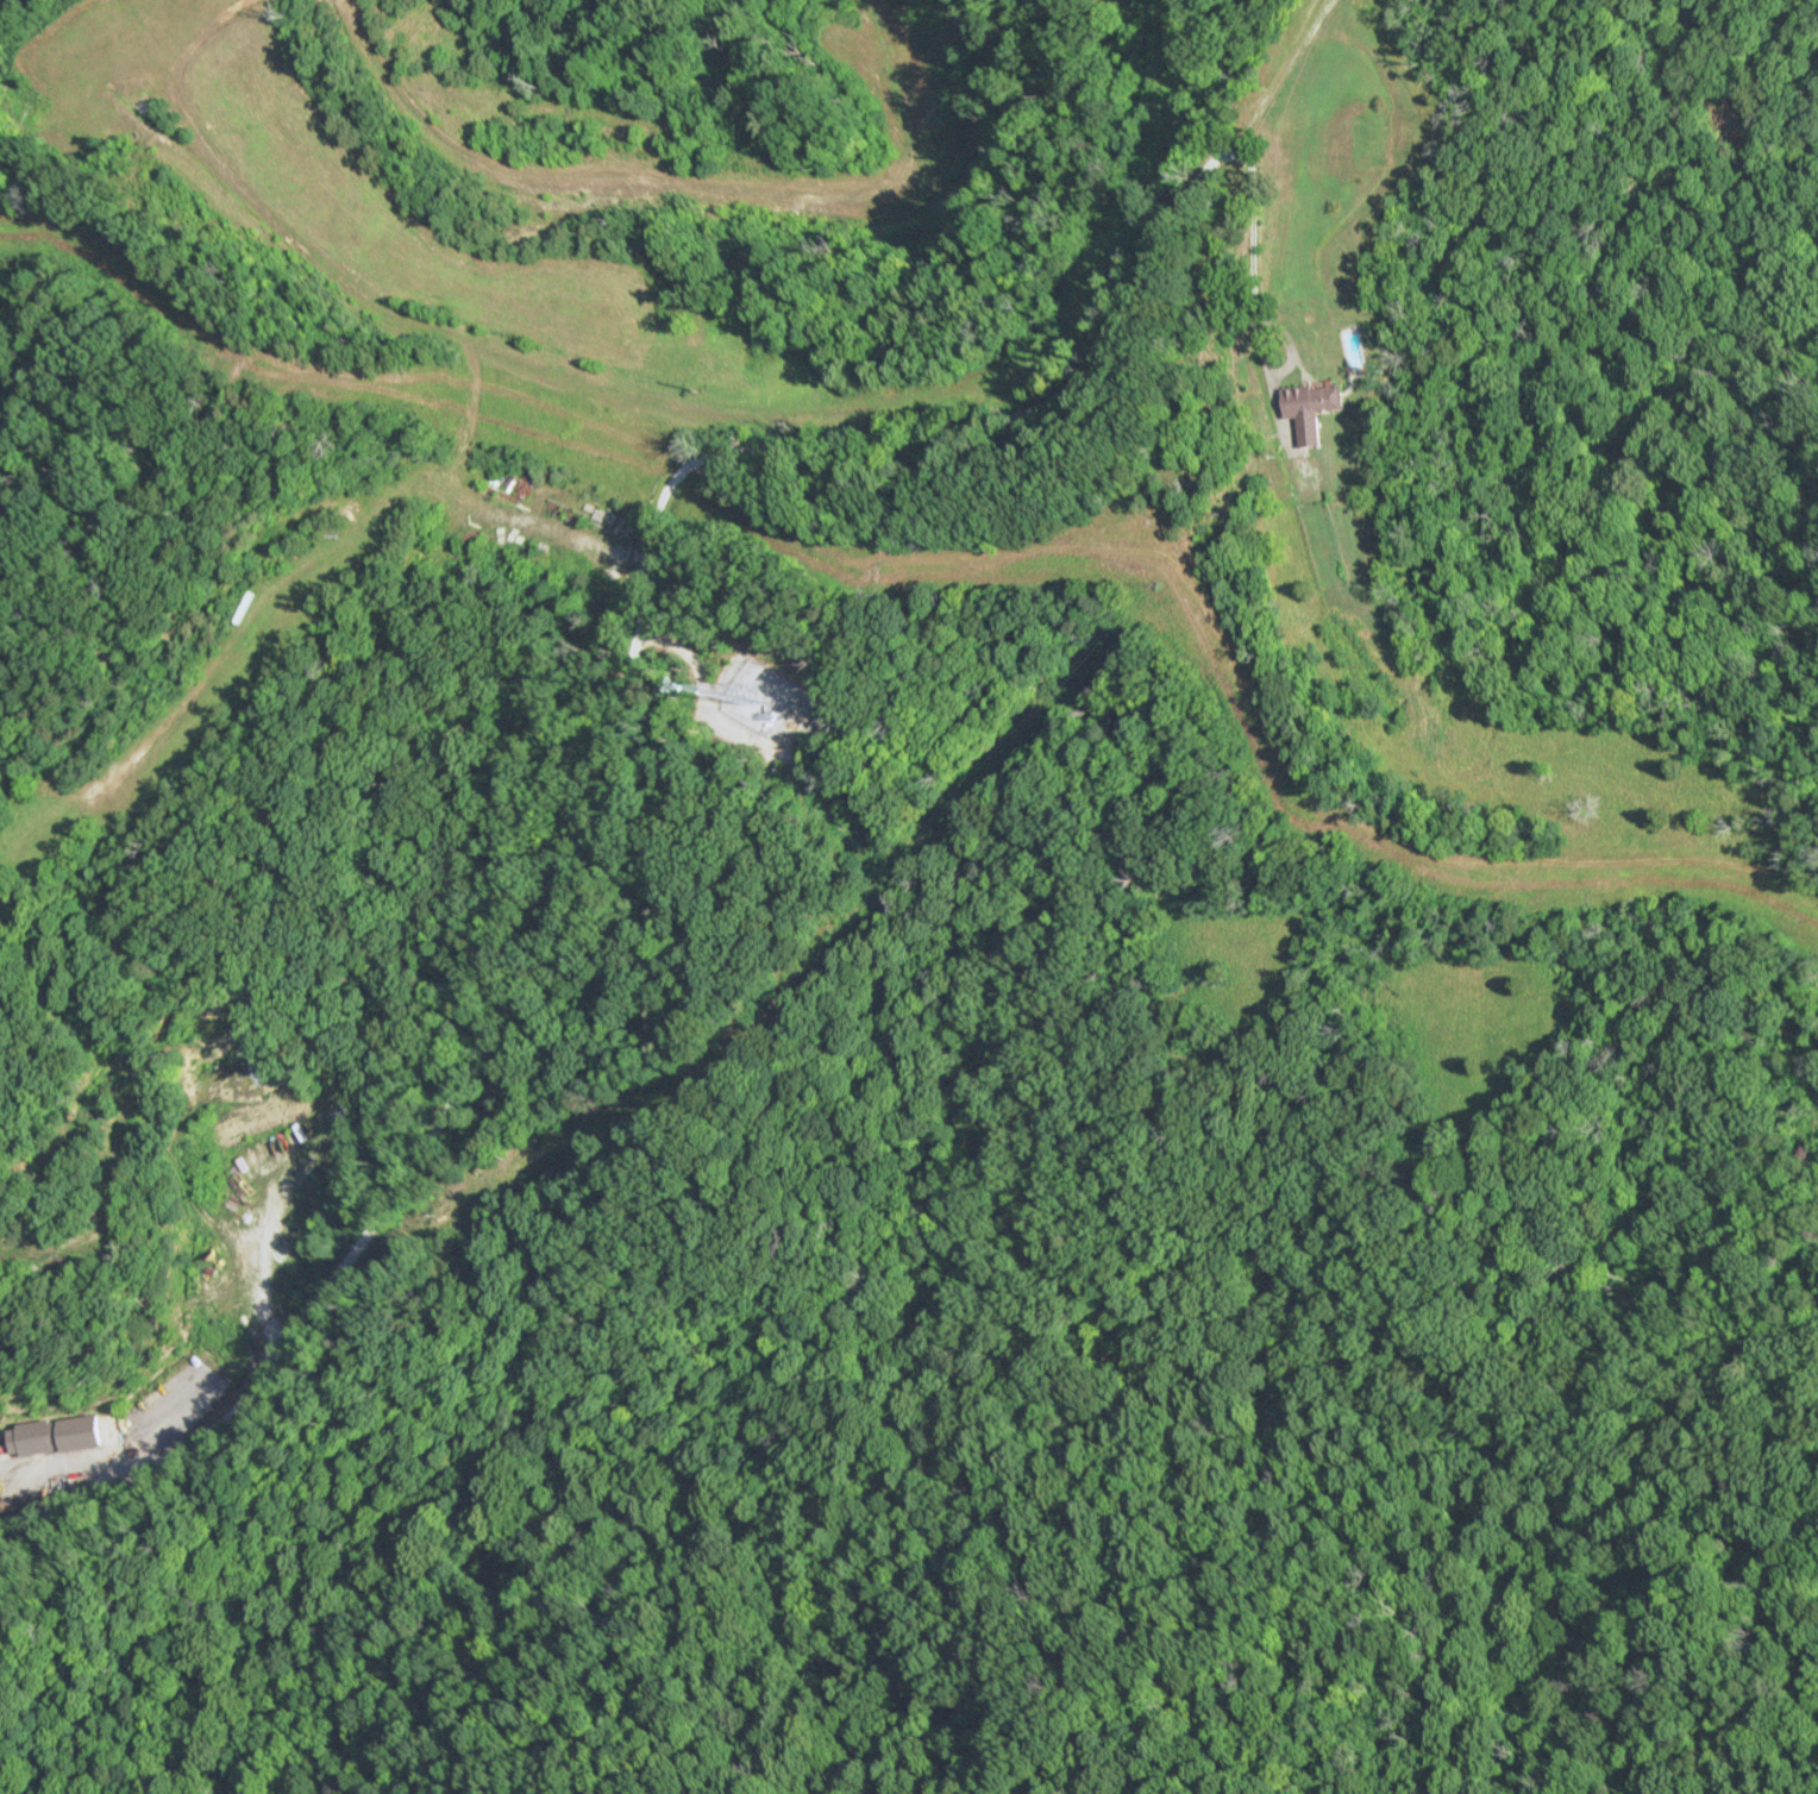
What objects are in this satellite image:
building: (1310, 408)
building: (161, 477)
building: (406, 519)
road: (598, 770)
building: (54, 1435)

